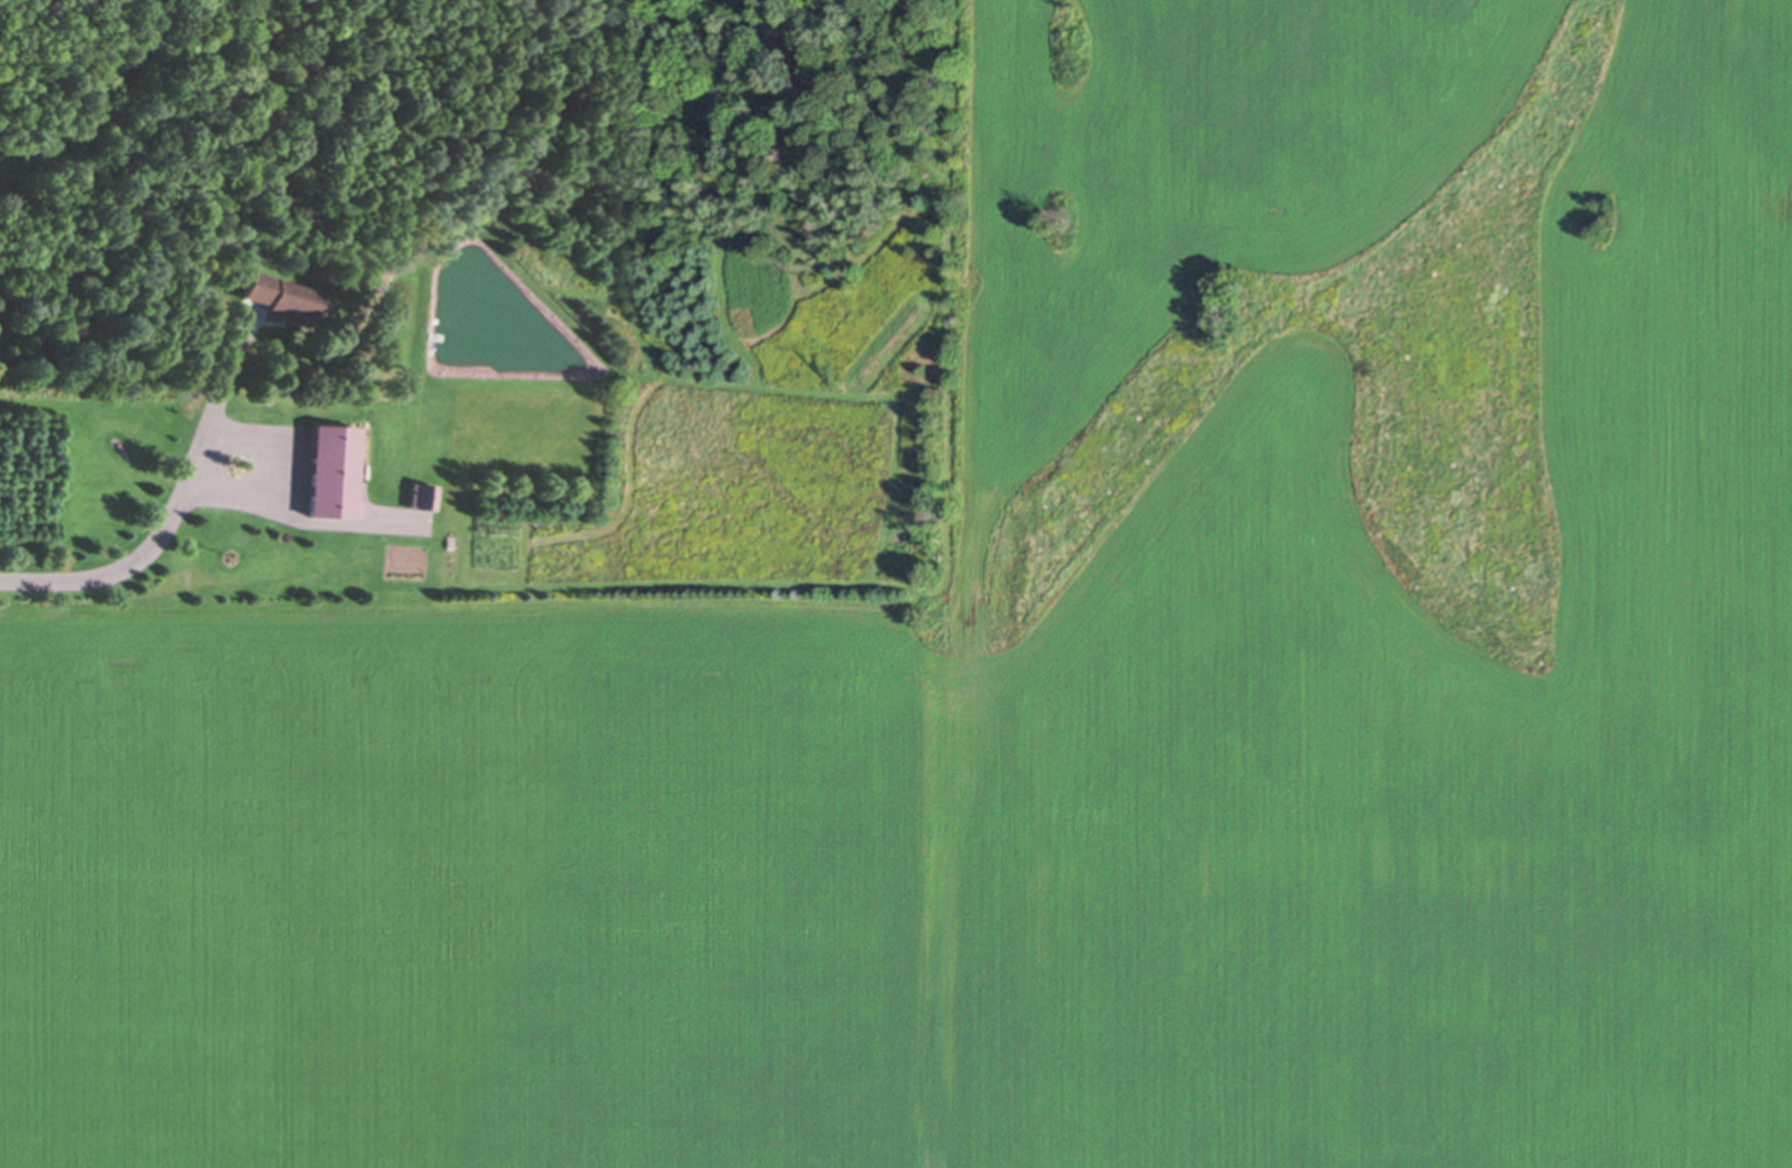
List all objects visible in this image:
building: (280, 295)
building: (329, 470)
building: (423, 495)

